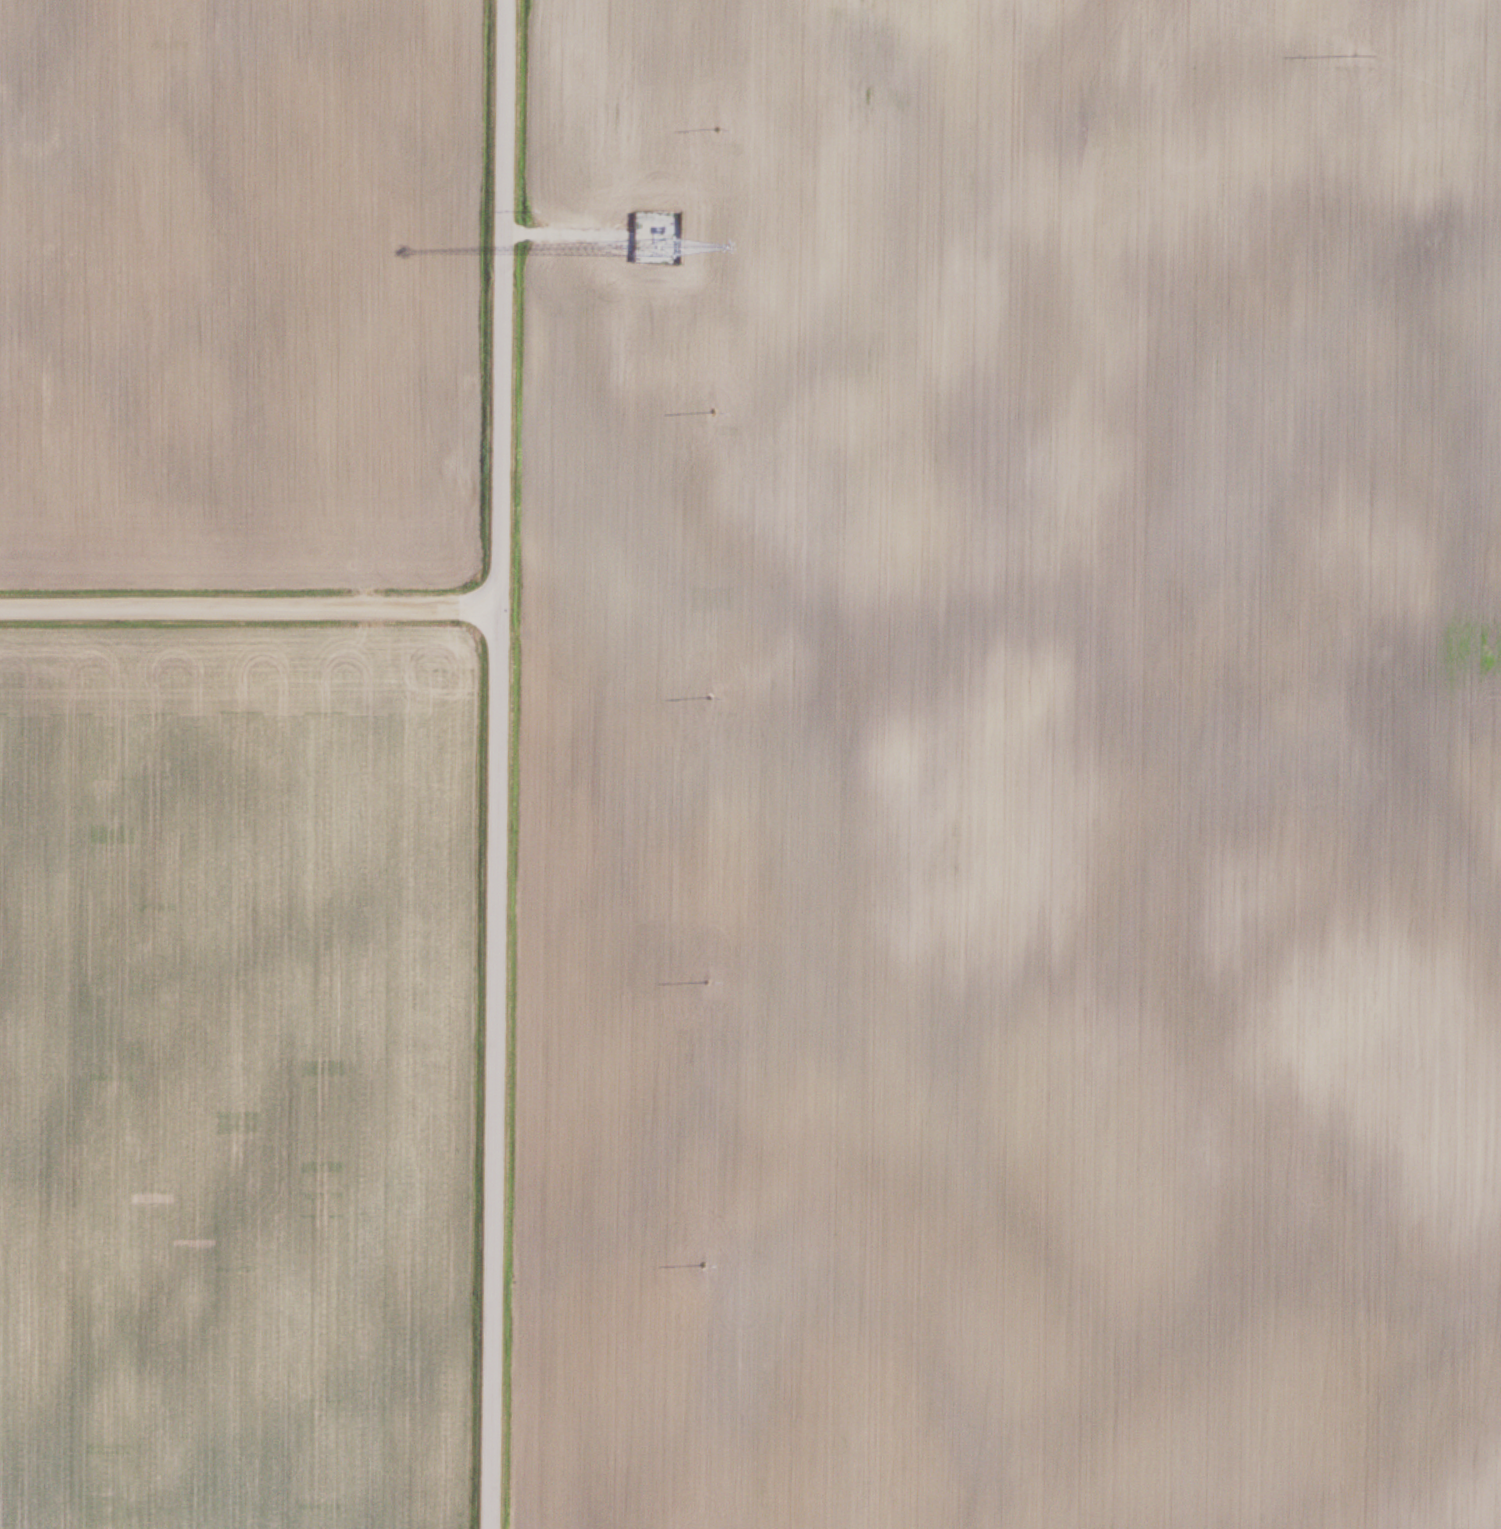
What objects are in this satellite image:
road: (256, 612)
road: (509, 764)

